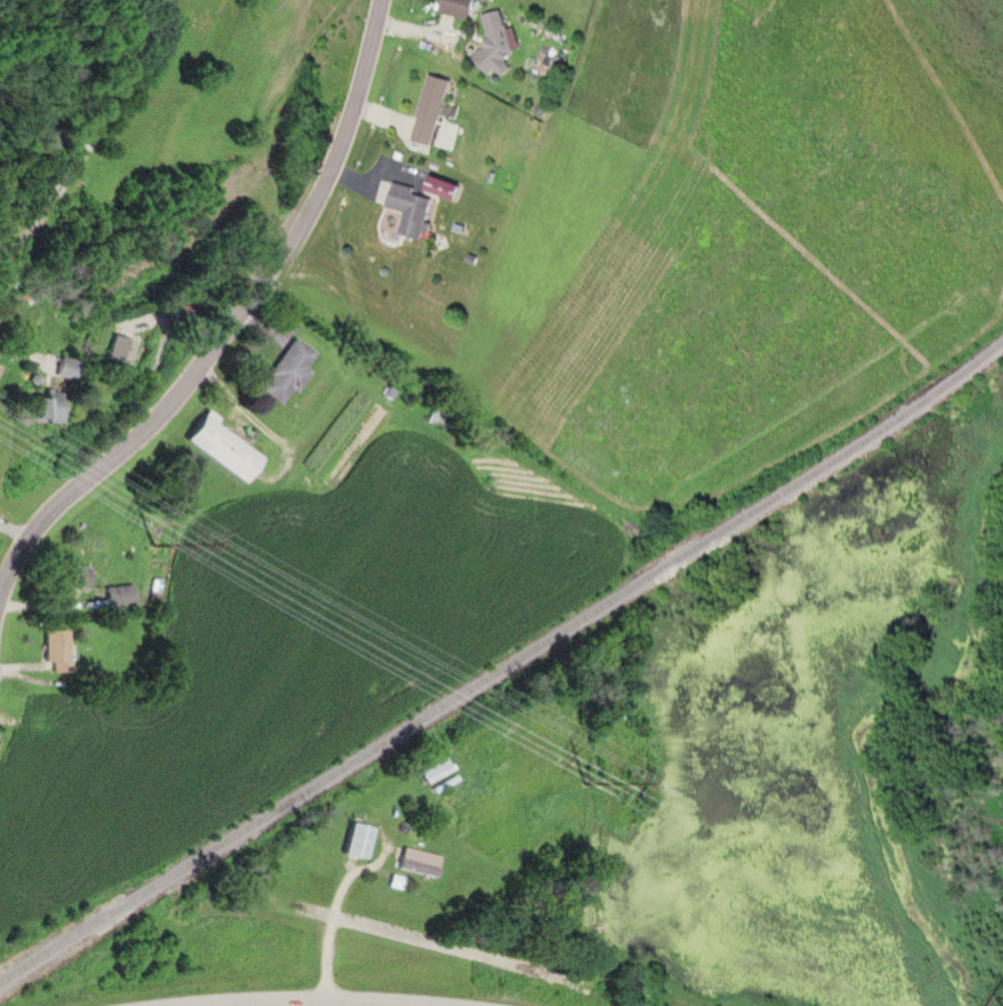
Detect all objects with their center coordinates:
building: (458, 7)
building: (499, 43)
building: (437, 109)
building: (454, 188)
road: (51, 207)
building: (415, 207)
road: (234, 324)
building: (123, 351)
building: (71, 368)
building: (291, 372)
building: (52, 411)
building: (442, 419)
building: (227, 447)
power tower: (157, 537)
building: (78, 574)
building: (124, 595)
building: (61, 648)
railway: (504, 667)
river: (882, 748)
building: (441, 773)
power tower: (587, 778)
building: (362, 838)
building: (421, 860)
road: (333, 930)
road: (309, 1005)

